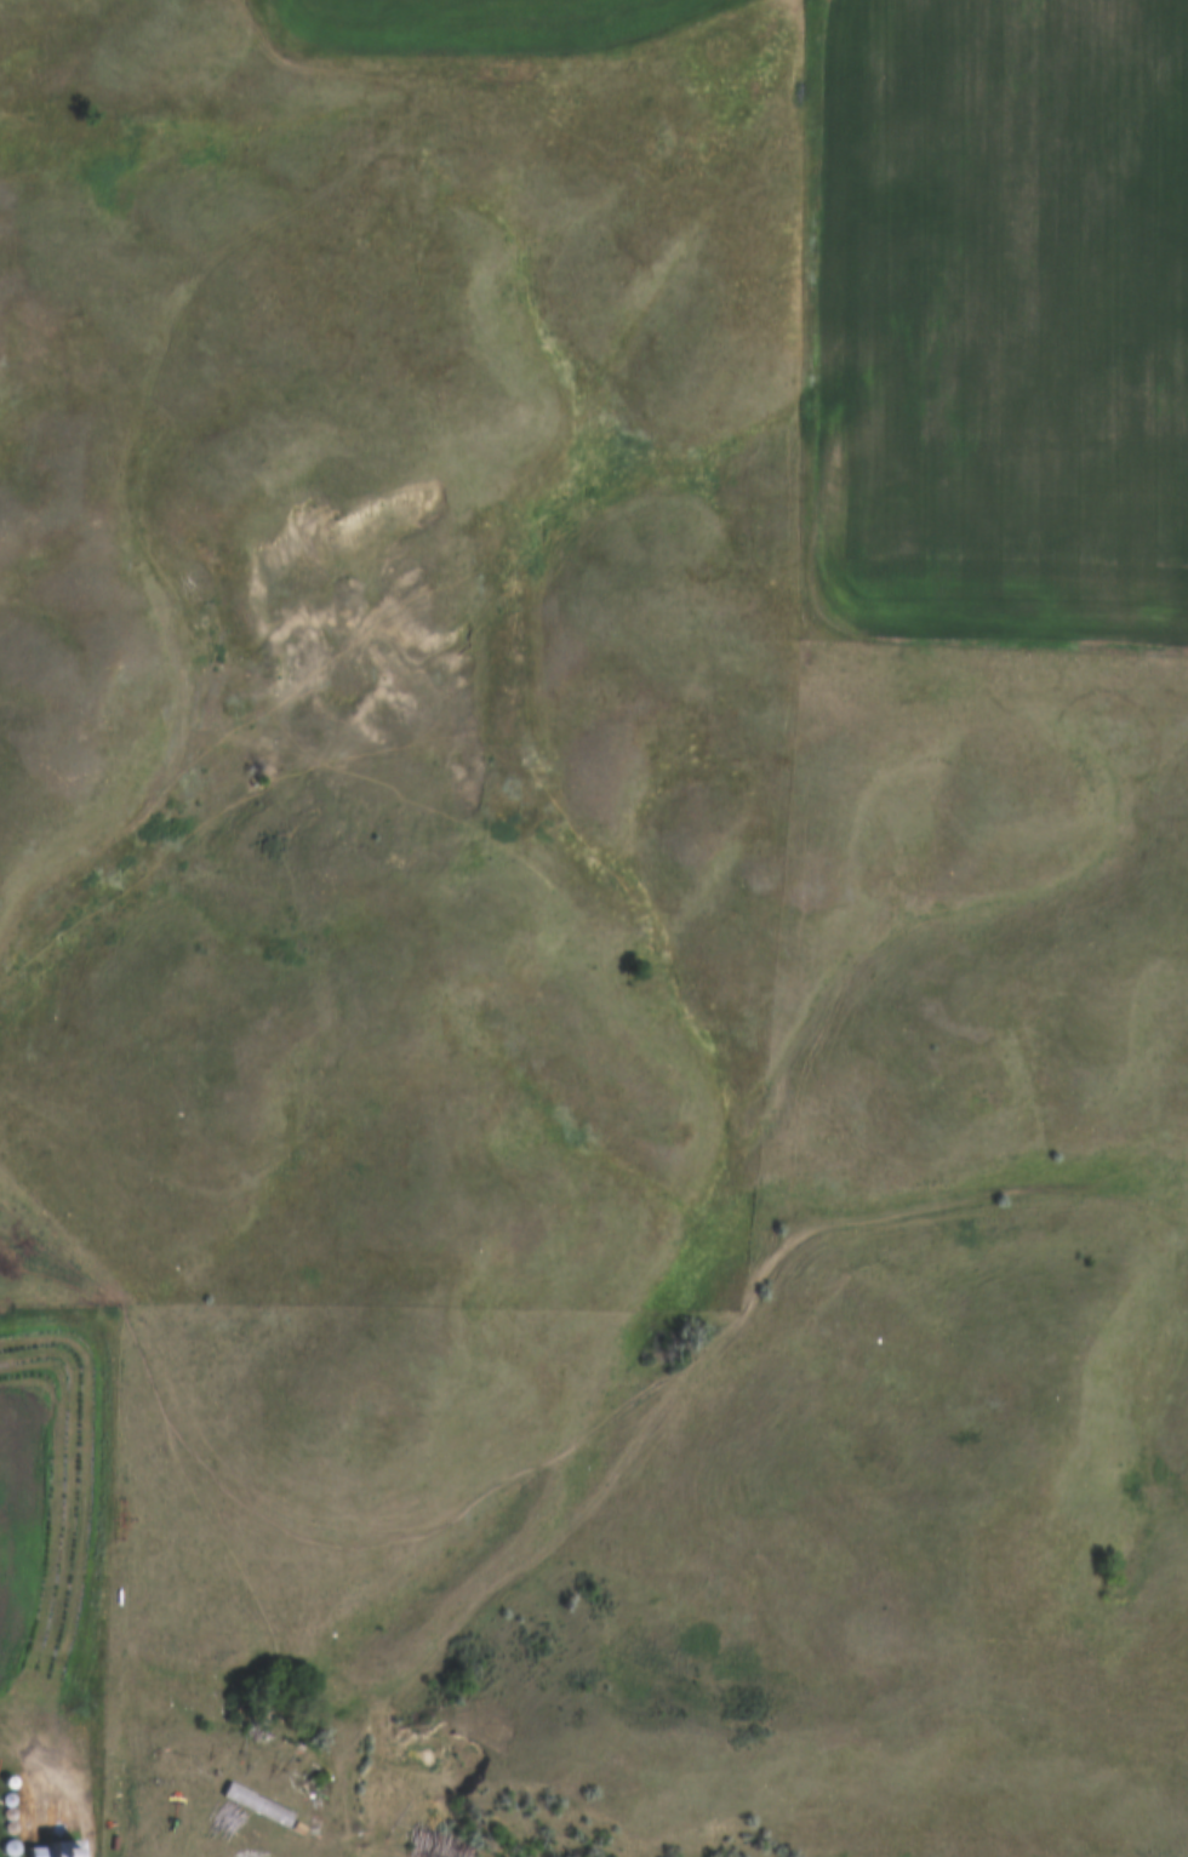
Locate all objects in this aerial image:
building: (44, 1847)
building: (430, 1850)

